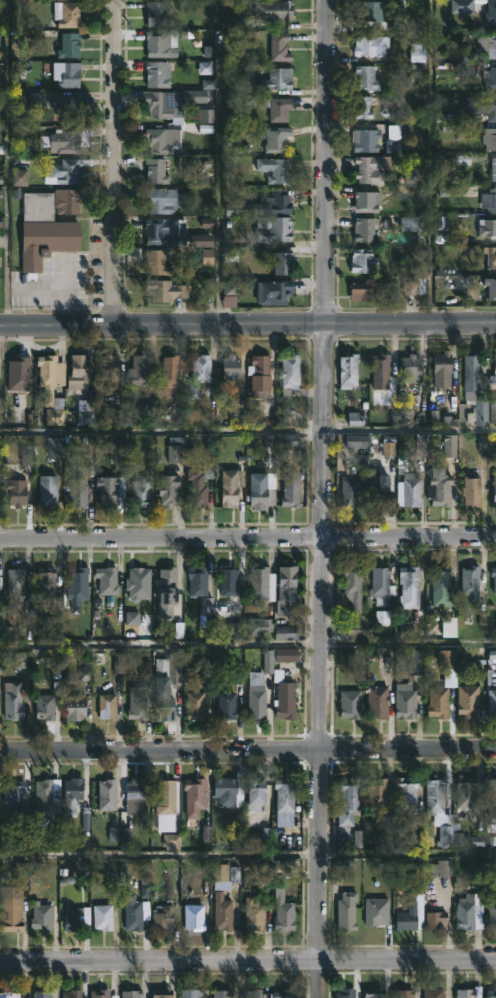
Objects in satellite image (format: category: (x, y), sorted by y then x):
building: (461, 5)
building: (274, 10)
building: (371, 10)
building: (159, 13)
building: (65, 14)
building: (491, 14)
building: (487, 42)
building: (158, 43)
building: (67, 46)
building: (371, 46)
building: (279, 47)
building: (418, 54)
building: (66, 73)
building: (157, 73)
building: (278, 78)
building: (366, 78)
building: (490, 78)
building: (36, 102)
building: (66, 103)
building: (169, 103)
building: (491, 103)
building: (363, 107)
building: (276, 108)
building: (207, 118)
building: (489, 138)
building: (67, 139)
building: (163, 139)
building: (275, 139)
building: (366, 141)
road: (432, 161)
road: (115, 162)
road: (220, 162)
road: (4, 163)
building: (370, 169)
building: (493, 169)
building: (65, 170)
building: (276, 170)
building: (156, 171)
building: (164, 200)
building: (367, 201)
building: (489, 201)
building: (279, 202)
building: (47, 226)
building: (365, 228)
building: (160, 229)
building: (276, 229)
building: (483, 229)
building: (490, 255)
building: (363, 261)
building: (157, 262)
building: (283, 262)
road: (56, 286)
building: (490, 287)
building: (373, 288)
building: (167, 289)
building: (411, 290)
building: (275, 292)
road: (248, 324)
building: (380, 367)
building: (231, 368)
building: (410, 368)
building: (443, 368)
building: (495, 368)
building: (138, 370)
building: (349, 370)
building: (78, 372)
building: (109, 372)
building: (199, 373)
building: (288, 373)
building: (168, 375)
building: (259, 376)
building: (52, 388)
building: (472, 395)
building: (493, 412)
road: (248, 432)
building: (357, 442)
building: (175, 450)
building: (200, 485)
building: (232, 486)
building: (379, 488)
building: (169, 489)
building: (291, 489)
building: (441, 489)
building: (495, 489)
building: (410, 490)
building: (472, 490)
building: (48, 491)
building: (107, 491)
building: (350, 491)
building: (15, 492)
building: (77, 492)
building: (140, 492)
building: (261, 495)
road: (322, 499)
road: (247, 538)
building: (493, 577)
building: (197, 580)
building: (229, 581)
building: (46, 582)
building: (107, 582)
building: (470, 582)
building: (15, 583)
building: (410, 584)
building: (77, 585)
building: (441, 585)
building: (259, 586)
building: (353, 586)
building: (380, 586)
building: (286, 589)
building: (166, 591)
building: (206, 612)
building: (260, 626)
building: (286, 633)
road: (248, 645)
building: (348, 658)
building: (279, 659)
building: (448, 660)
building: (418, 662)
building: (174, 670)
building: (256, 696)
building: (284, 696)
building: (469, 700)
building: (378, 701)
building: (405, 701)
building: (439, 701)
building: (13, 702)
building: (492, 702)
building: (137, 703)
building: (195, 704)
building: (350, 704)
building: (44, 706)
building: (107, 706)
building: (226, 706)
building: (165, 707)
building: (74, 708)
road: (248, 749)
building: (225, 791)
building: (467, 792)
building: (490, 792)
building: (255, 793)
building: (377, 793)
building: (406, 793)
building: (15, 794)
building: (106, 794)
building: (71, 795)
building: (136, 796)
building: (166, 797)
building: (194, 797)
building: (46, 801)
building: (285, 801)
building: (350, 801)
building: (439, 810)
road: (247, 855)
building: (442, 869)
building: (226, 873)
building: (52, 874)
building: (250, 876)
building: (14, 900)
building: (376, 909)
building: (132, 911)
building: (347, 911)
building: (470, 911)
building: (222, 913)
building: (254, 913)
building: (284, 916)
building: (492, 916)
building: (102, 917)
building: (194, 917)
building: (41, 918)
building: (73, 918)
building: (164, 918)
building: (435, 920)
building: (405, 921)
road: (248, 959)
building: (374, 992)
building: (433, 992)
building: (492, 992)
building: (41, 993)
building: (71, 993)
building: (99, 993)
building: (131, 993)
building: (162, 993)
building: (191, 993)
building: (285, 993)
building: (345, 993)
building: (403, 993)
building: (467, 993)
building: (11, 994)
building: (222, 994)
building: (257, 994)

